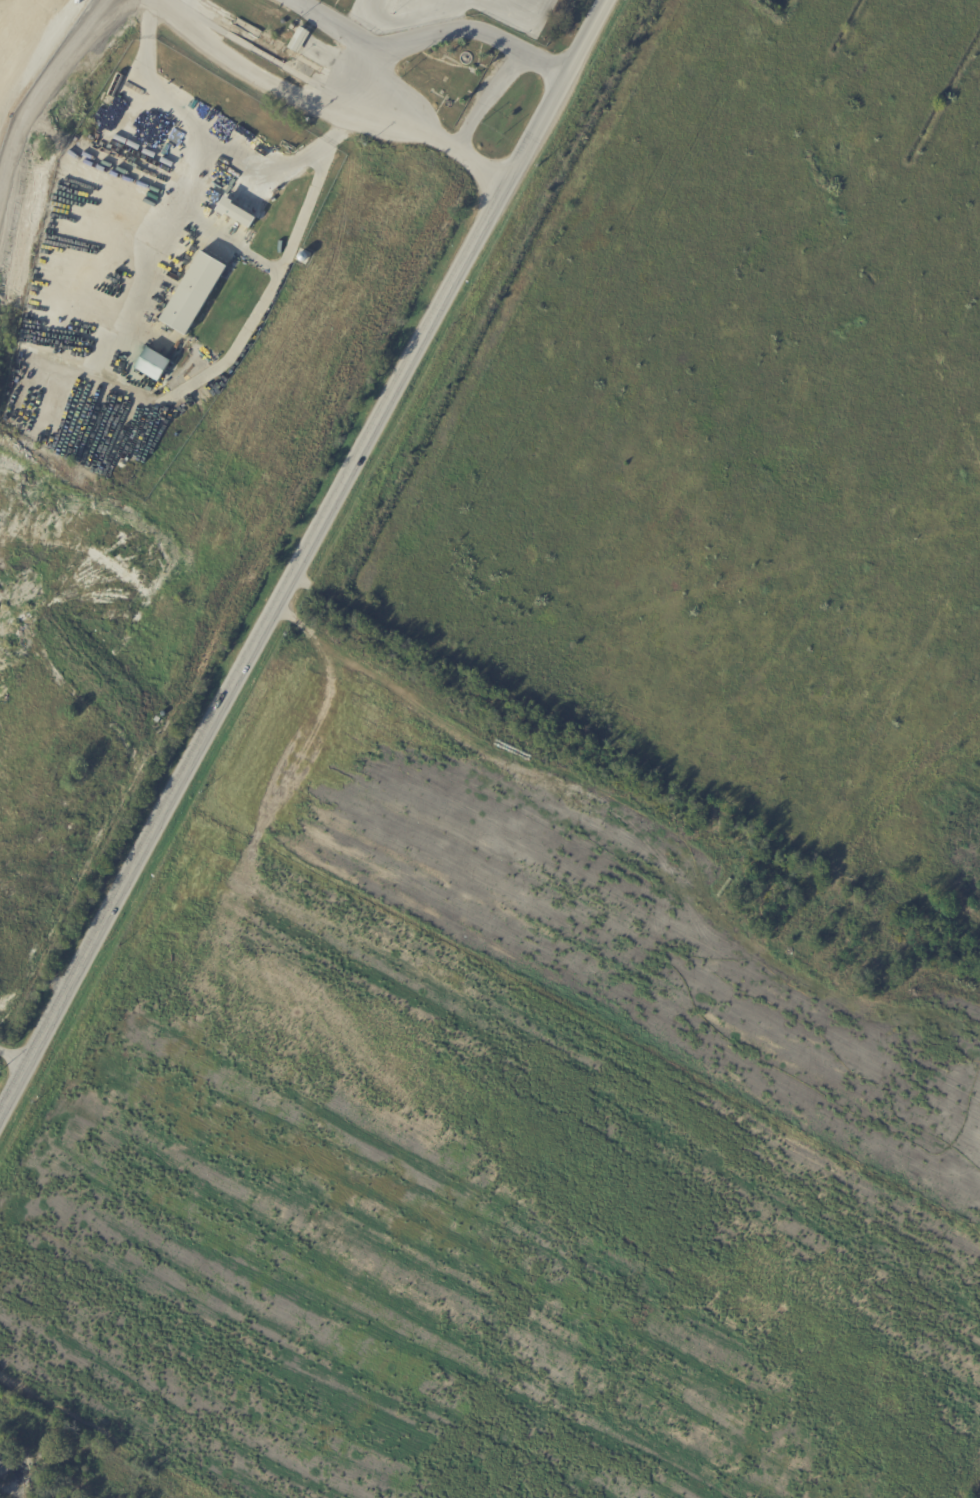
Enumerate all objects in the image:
road: (459, 5)
building: (489, 14)
road: (437, 33)
building: (297, 40)
road: (360, 41)
road: (542, 64)
road: (265, 75)
building: (455, 78)
building: (436, 86)
road: (487, 101)
road: (423, 130)
road: (213, 138)
road: (481, 167)
building: (235, 213)
road: (225, 239)
building: (194, 294)
building: (179, 351)
building: (152, 363)
road: (155, 407)
road: (302, 555)
building: (157, 720)
road: (13, 1053)

